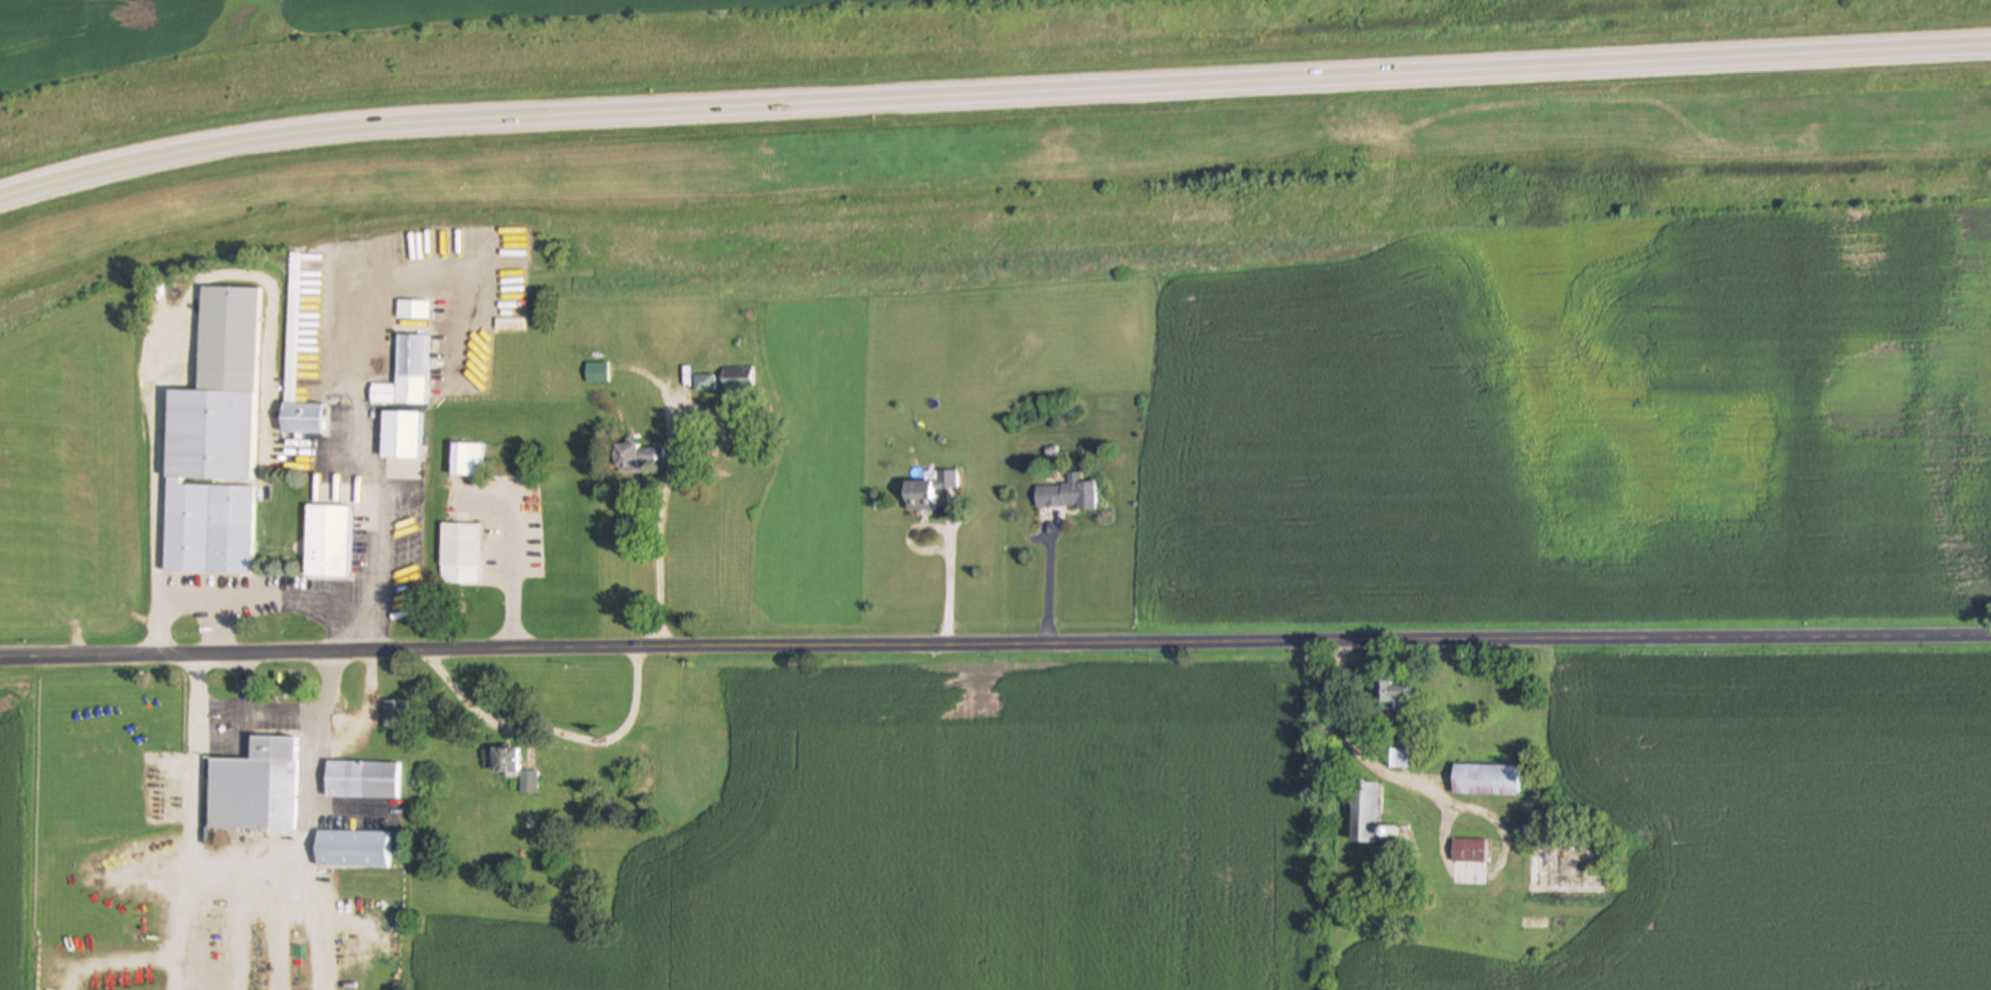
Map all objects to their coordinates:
crop: (300, 24)
road: (992, 100)
building: (413, 311)
building: (296, 362)
building: (597, 373)
building: (405, 375)
building: (703, 383)
building: (399, 436)
building: (213, 445)
building: (635, 458)
building: (722, 459)
building: (466, 461)
building: (928, 492)
building: (1065, 497)
road: (382, 507)
road: (661, 527)
building: (332, 538)
building: (458, 553)
road: (950, 576)
road: (510, 580)
road: (1049, 585)
road: (253, 600)
road: (995, 642)
building: (1391, 692)
road: (258, 710)
building: (397, 715)
road: (547, 727)
building: (1399, 758)
building: (513, 768)
building: (658, 770)
building: (363, 780)
building: (255, 787)
building: (1364, 811)
building: (352, 849)
building: (1469, 851)
road: (245, 877)

